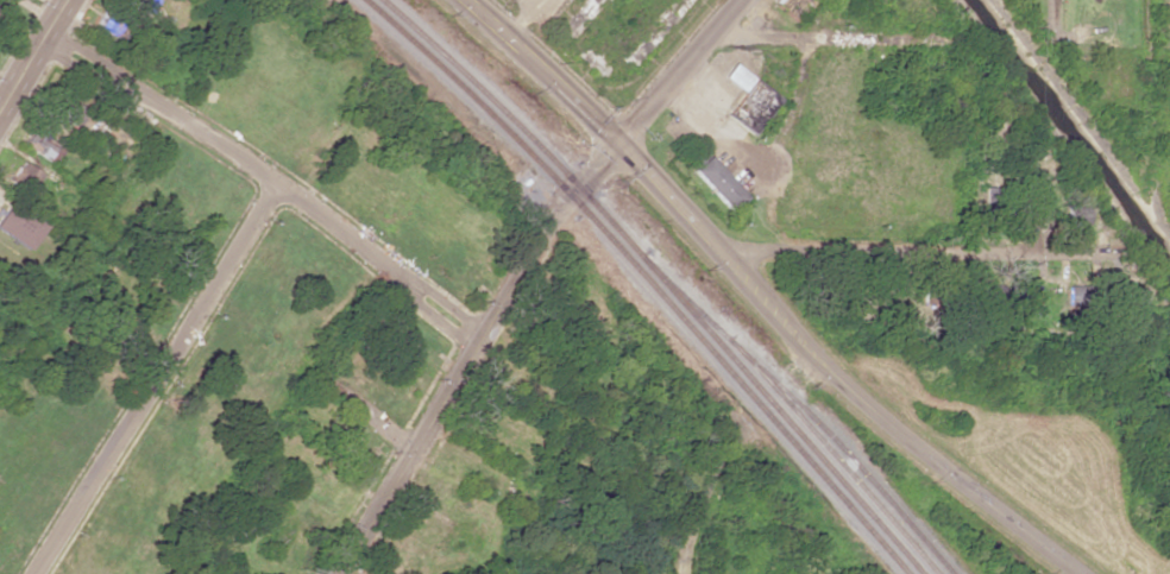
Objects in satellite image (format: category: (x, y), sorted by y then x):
building: (144, 4)
building: (791, 6)
building: (1166, 14)
road: (1051, 15)
building: (112, 25)
road: (825, 36)
road: (30, 49)
road: (542, 70)
road: (679, 70)
building: (748, 99)
building: (68, 108)
traffic signals: (619, 140)
building: (40, 141)
road: (595, 166)
building: (23, 176)
building: (711, 176)
road: (265, 182)
building: (1063, 206)
building: (18, 225)
road: (898, 254)
railway: (644, 278)
railway: (660, 278)
building: (1018, 292)
building: (1130, 296)
road: (440, 318)
road: (832, 377)
road: (151, 380)
road: (454, 383)
road: (364, 410)
road: (705, 493)

